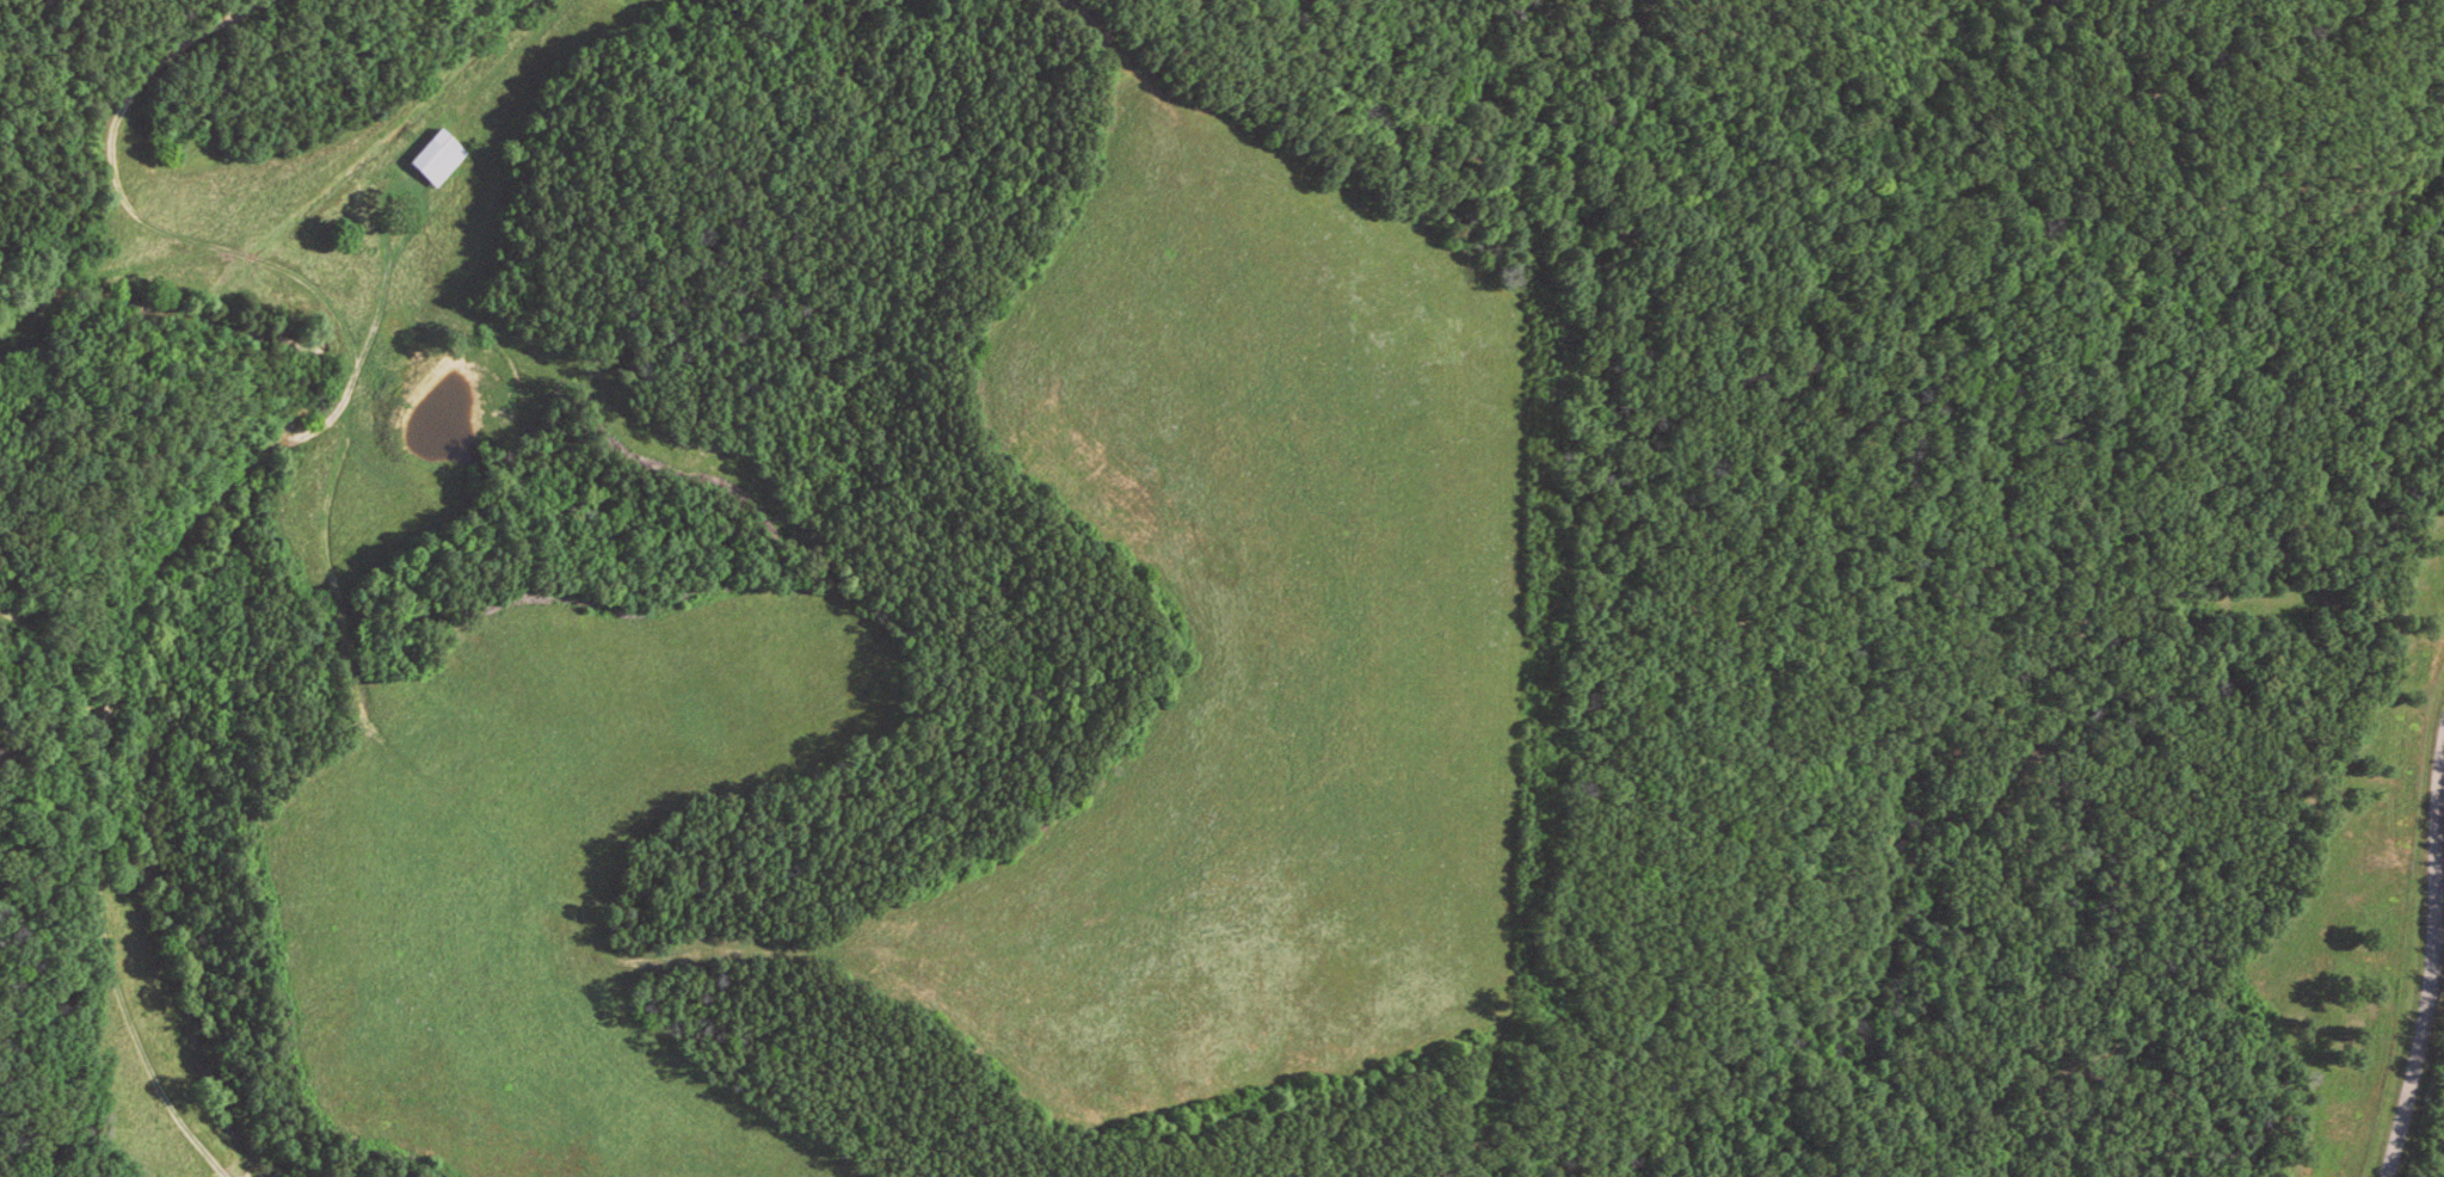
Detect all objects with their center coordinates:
building: (441, 159)
road: (2438, 981)

